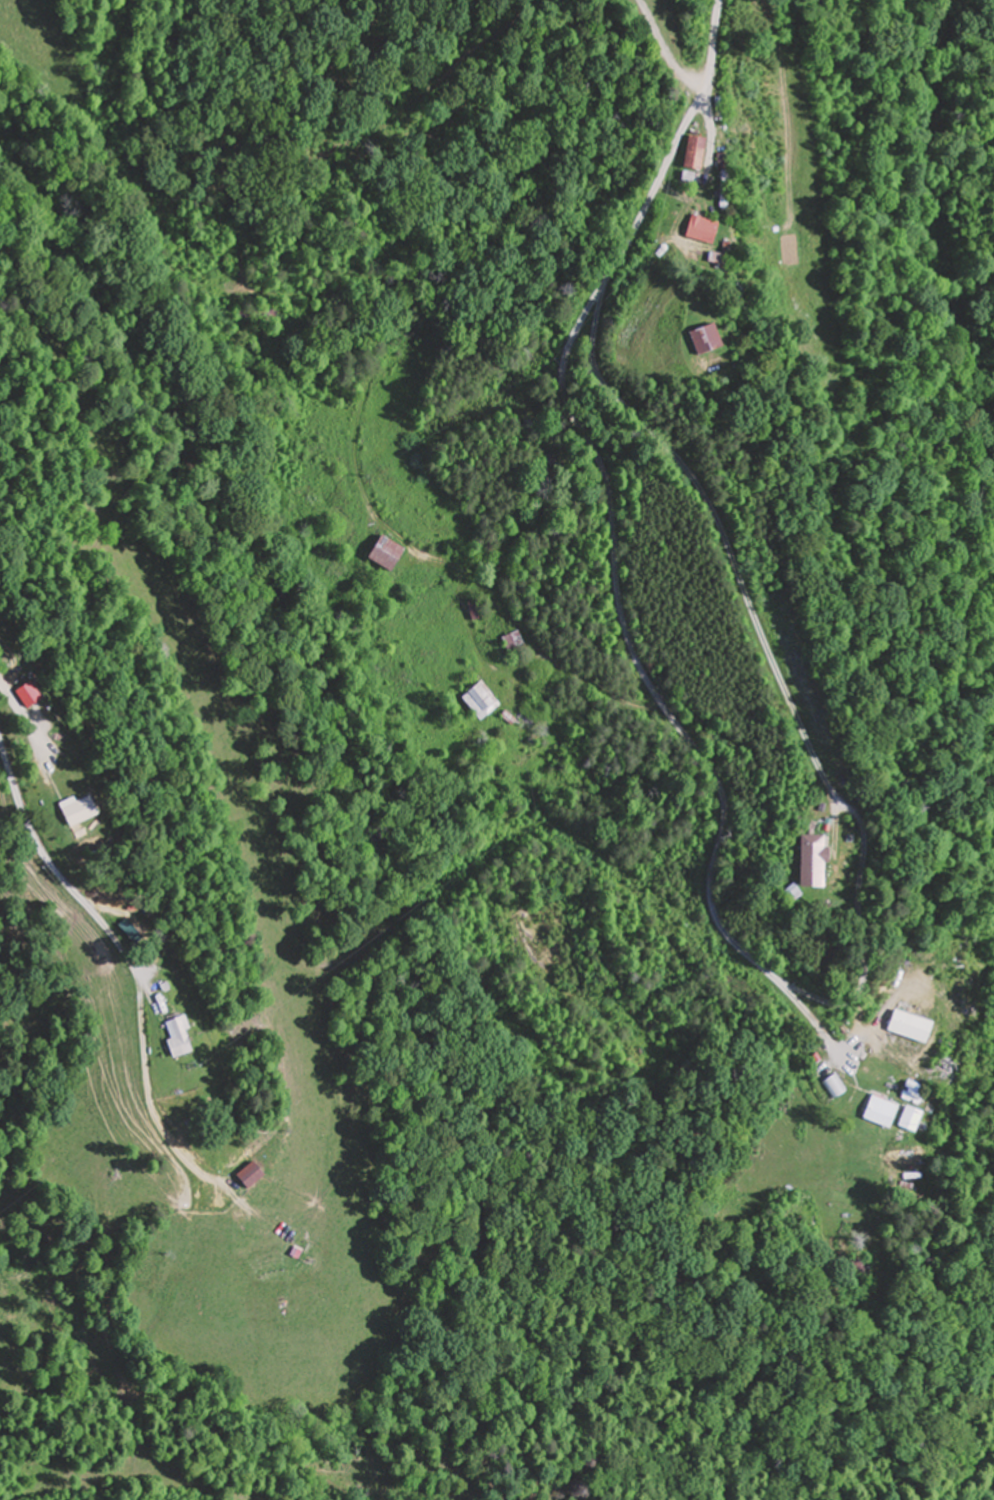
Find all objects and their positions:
building: (689, 154)
building: (696, 230)
building: (691, 342)
road: (618, 548)
building: (380, 552)
building: (473, 609)
building: (511, 644)
building: (477, 700)
building: (529, 712)
building: (67, 811)
building: (806, 861)
road: (62, 883)
building: (173, 1038)
building: (877, 1112)
building: (906, 1119)
building: (243, 1175)
building: (858, 1267)

